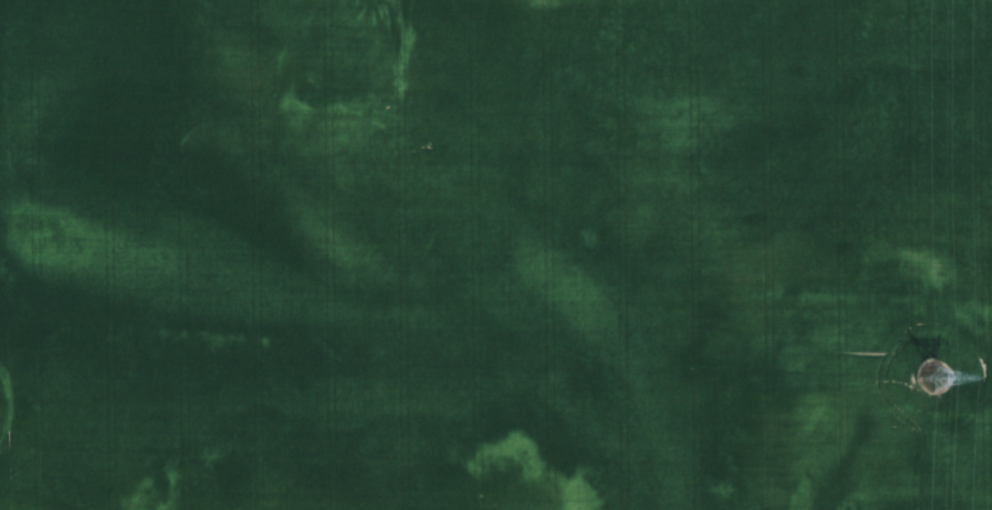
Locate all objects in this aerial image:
power tower: (937, 379)

